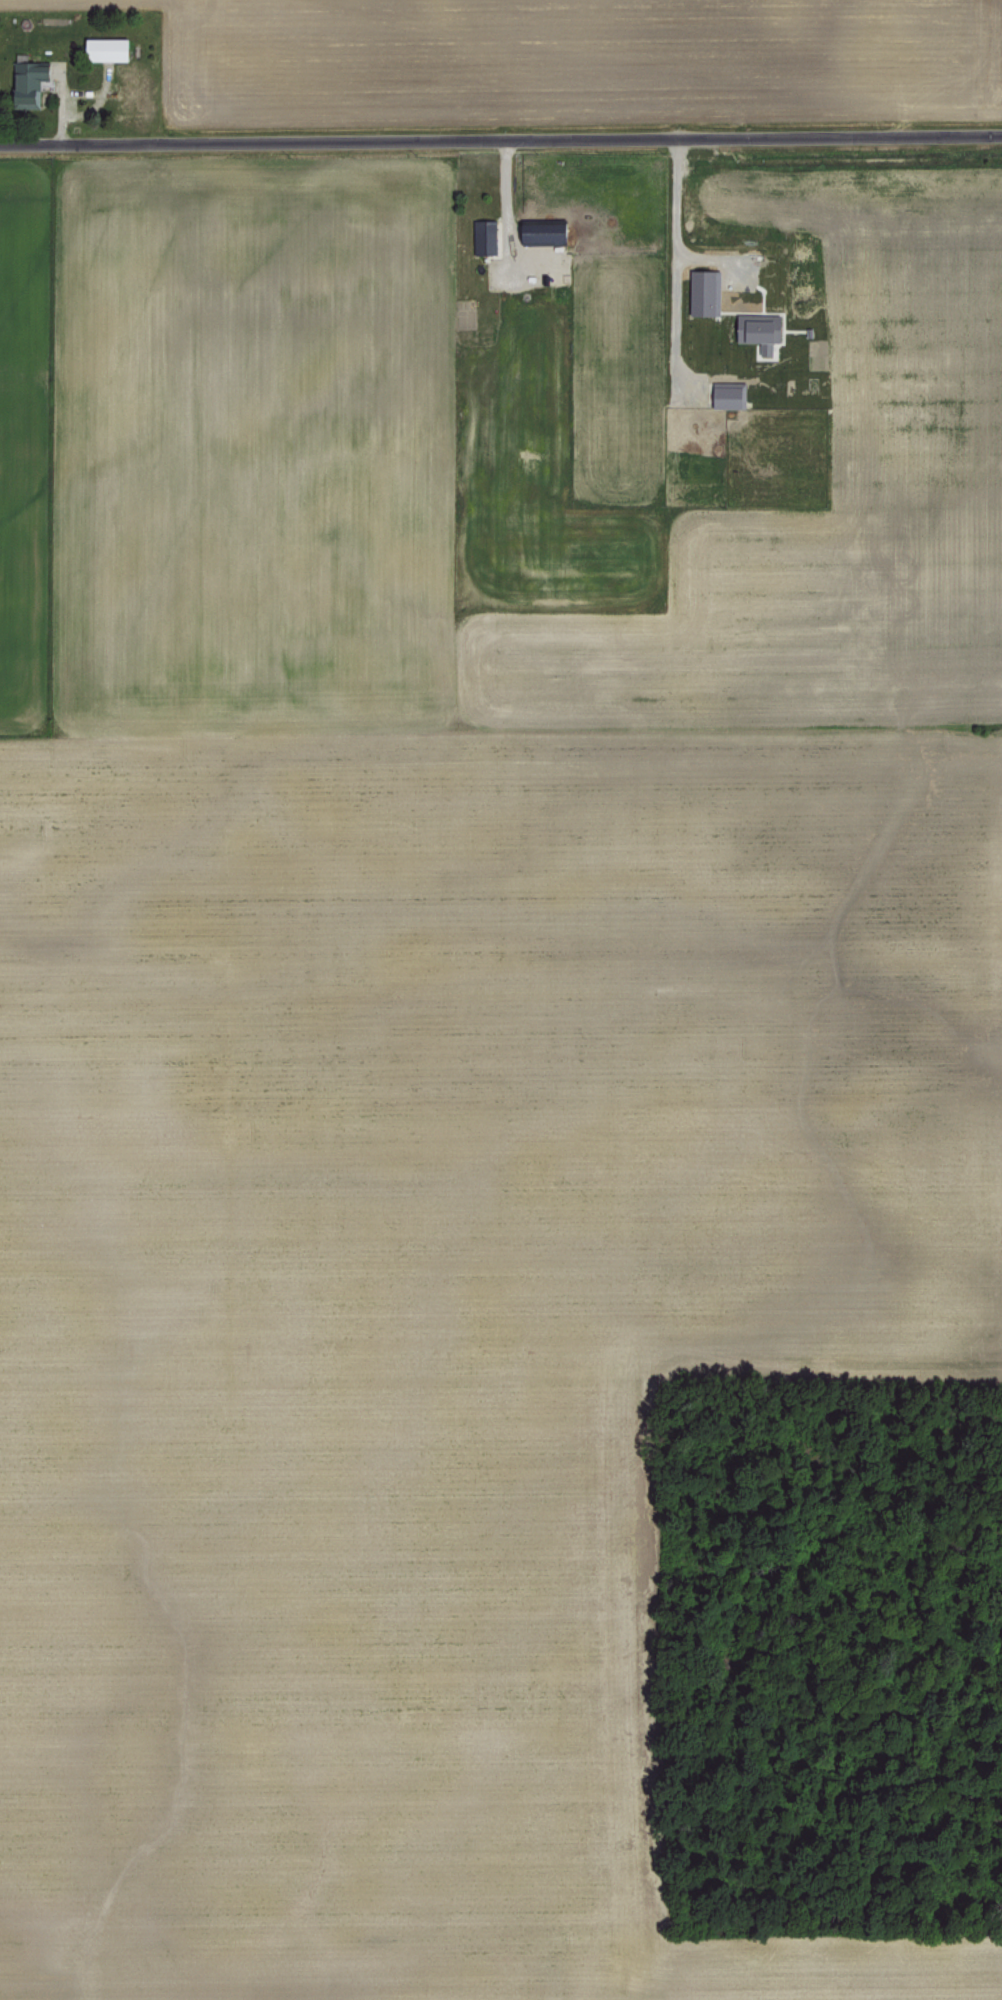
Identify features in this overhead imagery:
building: (101, 49)
road: (500, 137)
building: (539, 232)
building: (481, 237)
road: (672, 264)
building: (700, 293)
building: (756, 332)
building: (724, 393)

